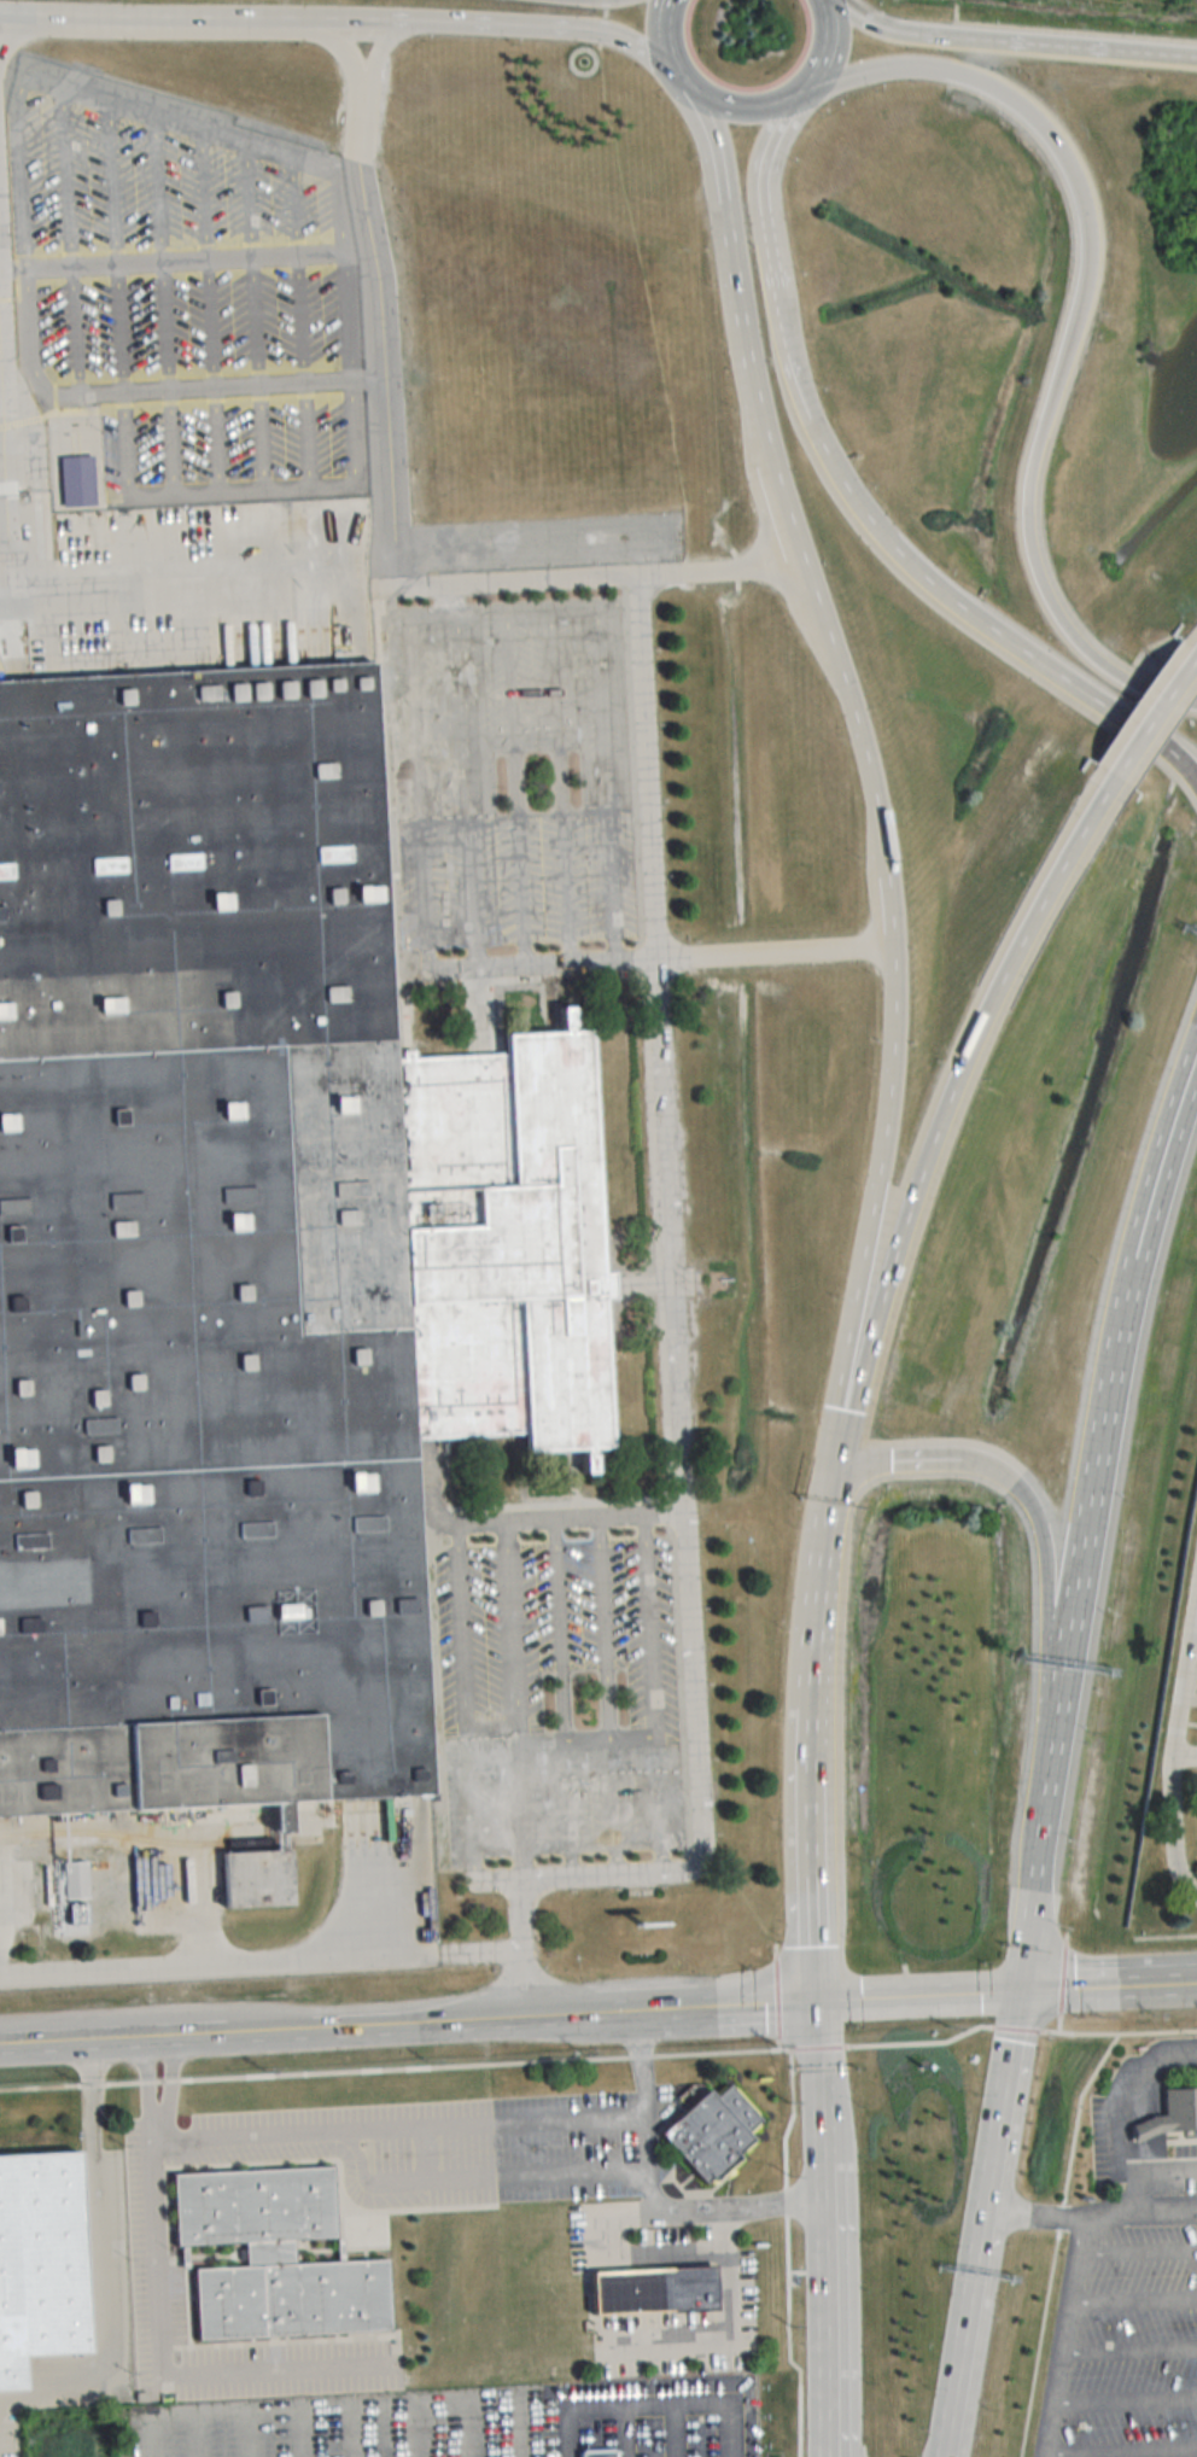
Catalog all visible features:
road: (603, 17)
road: (343, 19)
road: (1012, 39)
road: (670, 47)
road: (819, 52)
road: (869, 68)
road: (738, 105)
road: (761, 193)
road: (734, 274)
road: (369, 305)
road: (794, 375)
road: (1053, 389)
building: (77, 482)
road: (781, 514)
road: (580, 578)
road: (1, 583)
road: (183, 603)
road: (444, 611)
road: (998, 630)
road: (1195, 647)
road: (1144, 717)
road: (851, 718)
road: (468, 788)
road: (418, 792)
road: (889, 914)
road: (539, 963)
road: (936, 1117)
road: (870, 1212)
building: (245, 1248)
road: (1121, 1332)
road: (671, 1379)
road: (926, 1457)
traffic signals: (836, 1472)
road: (831, 1494)
road: (615, 1515)
road: (1047, 1542)
road: (648, 1624)
road: (602, 1626)
road: (559, 1628)
road: (1192, 1634)
road: (813, 1638)
road: (631, 1735)
road: (584, 1737)
road: (1172, 1741)
road: (1053, 1749)
road: (1184, 1753)
road: (808, 1791)
railway: (157, 1842)
road: (1192, 1897)
road: (811, 1908)
road: (1064, 1937)
road: (1023, 1938)
road: (775, 1949)
road: (258, 1965)
road: (1061, 1977)
road: (1107, 1984)
traffic signals: (1016, 1988)
road: (915, 1992)
road: (775, 1996)
traffic signals: (813, 1997)
road: (737, 2001)
road: (590, 2013)
road: (1057, 2020)
road: (814, 2026)
road: (1015, 2026)
road: (369, 2030)
road: (1116, 2031)
road: (918, 2039)
road: (110, 2042)
road: (777, 2043)
road: (816, 2045)
road: (788, 2048)
road: (1119, 2099)
building: (1173, 2114)
road: (455, 2125)
building: (711, 2131)
road: (783, 2179)
road: (1134, 2179)
road: (689, 2210)
road: (1029, 2212)
road: (1138, 2212)
road: (977, 2222)
road: (1055, 2239)
road: (1138, 2246)
road: (821, 2251)
road: (100, 2255)
building: (278, 2257)
building: (41, 2262)
road: (795, 2270)
road: (812, 2270)
building: (654, 2292)
road: (1134, 2295)
road: (159, 2307)
road: (1064, 2336)
road: (728, 2338)
road: (1129, 2348)
road: (1126, 2394)
road: (649, 2395)
road: (305, 2400)
road: (519, 2423)
road: (731, 2424)
road: (407, 2426)
road: (459, 2426)
road: (676, 2426)
road: (626, 2427)
road: (354, 2428)
road: (570, 2428)
road: (299, 2429)
road: (249, 2430)
road: (198, 2432)
road: (1122, 2446)
building: (597, 2451)
road: (823, 2451)
road: (827, 2451)

